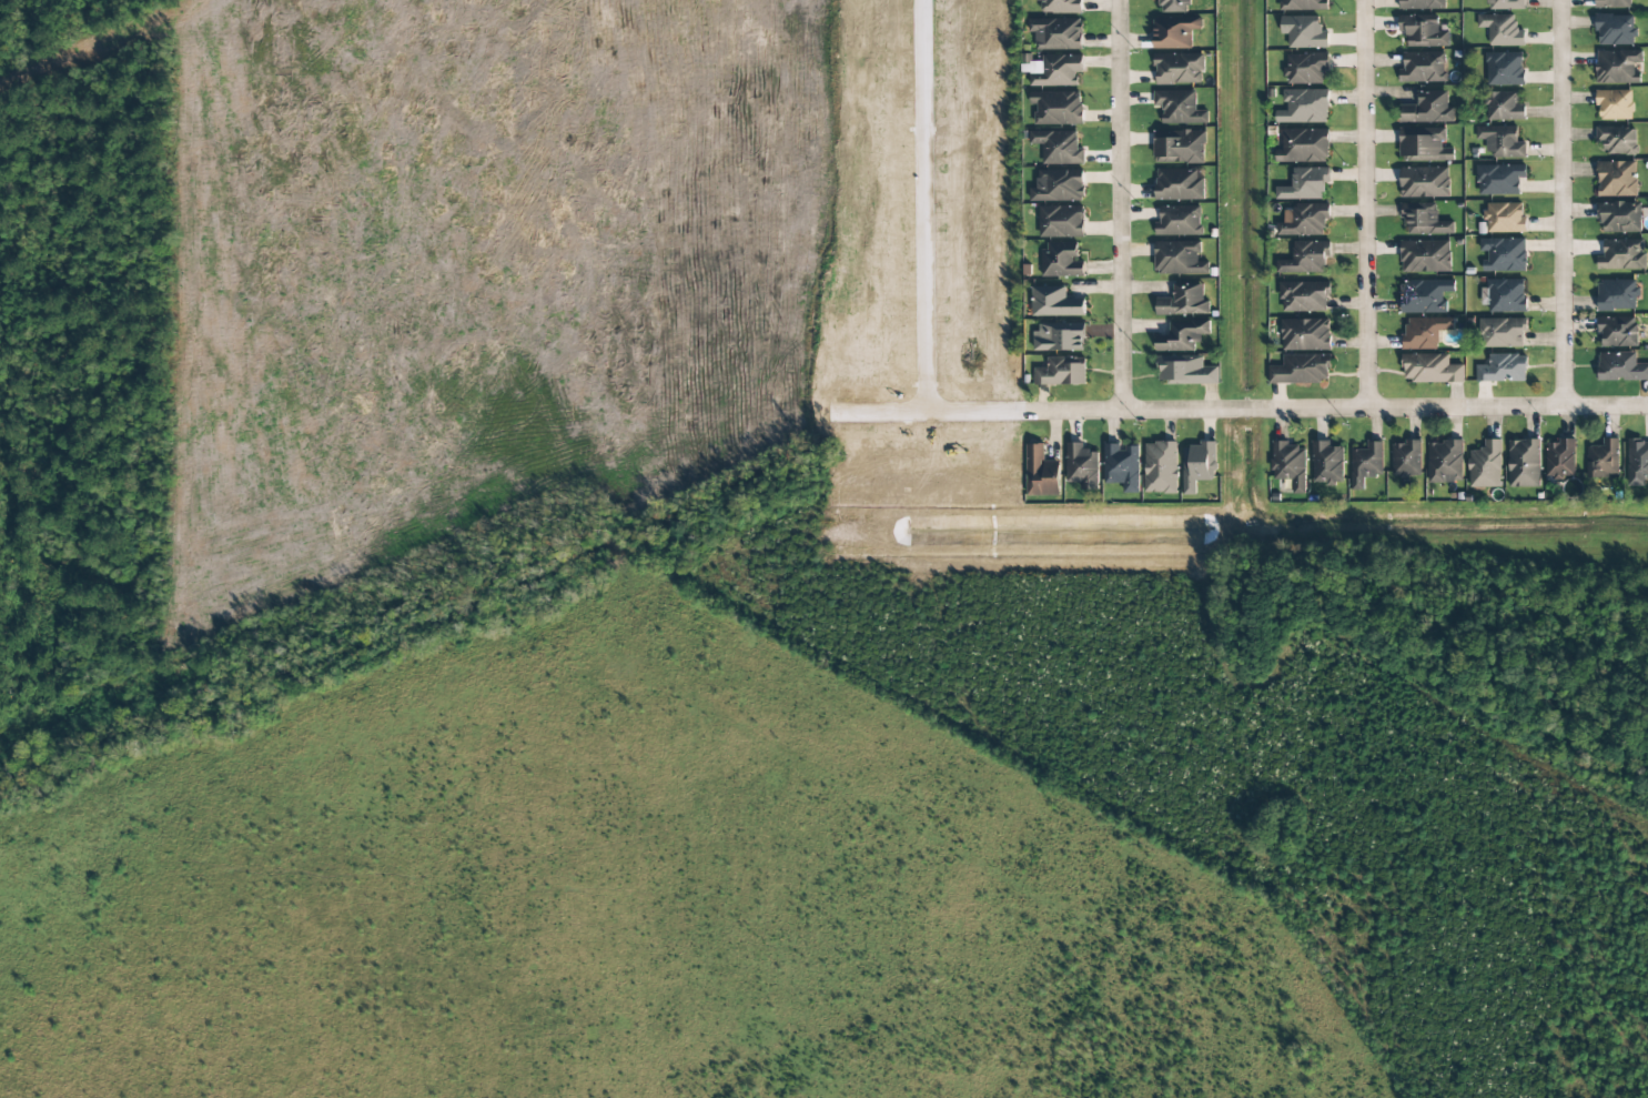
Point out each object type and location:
building: (1611, 3)
building: (1304, 4)
building: (1422, 4)
building: (1505, 4)
building: (1174, 6)
building: (1061, 7)
building: (1502, 30)
building: (1615, 30)
building: (1423, 31)
building: (1174, 32)
building: (1304, 32)
building: (1056, 33)
building: (1617, 67)
building: (1306, 68)
building: (1423, 68)
building: (1179, 69)
building: (1504, 69)
building: (1055, 70)
building: (1614, 105)
building: (1304, 107)
building: (1504, 107)
building: (1056, 108)
building: (1179, 108)
building: (1427, 108)
building: (1617, 140)
building: (1502, 142)
building: (1423, 144)
building: (1304, 145)
building: (1058, 147)
building: (1180, 147)
building: (1616, 179)
building: (1499, 180)
building: (1424, 182)
building: (1179, 184)
building: (1305, 184)
building: (1059, 185)
road: (1565, 204)
road: (1364, 205)
road: (1123, 208)
building: (1505, 218)
building: (1619, 218)
building: (1303, 220)
building: (1424, 220)
building: (1179, 221)
building: (1062, 222)
building: (1504, 254)
building: (1621, 255)
building: (1425, 256)
building: (1305, 258)
building: (1179, 259)
building: (1061, 260)
building: (1617, 294)
building: (1425, 295)
building: (1506, 295)
building: (1304, 296)
building: (1184, 300)
building: (1055, 302)
building: (1425, 332)
building: (1617, 332)
building: (1503, 333)
building: (1305, 334)
building: (1061, 335)
building: (1182, 335)
building: (1620, 367)
building: (1430, 369)
building: (1503, 369)
building: (1301, 370)
building: (1185, 371)
building: (1062, 372)
road: (1080, 414)
building: (1406, 459)
building: (1560, 459)
building: (1602, 460)
building: (1445, 462)
building: (1637, 462)
building: (1327, 463)
building: (1524, 463)
building: (1366, 464)
building: (1199, 465)
building: (1290, 465)
building: (1486, 465)
building: (1082, 466)
building: (1122, 466)
building: (1161, 467)
building: (1041, 473)

